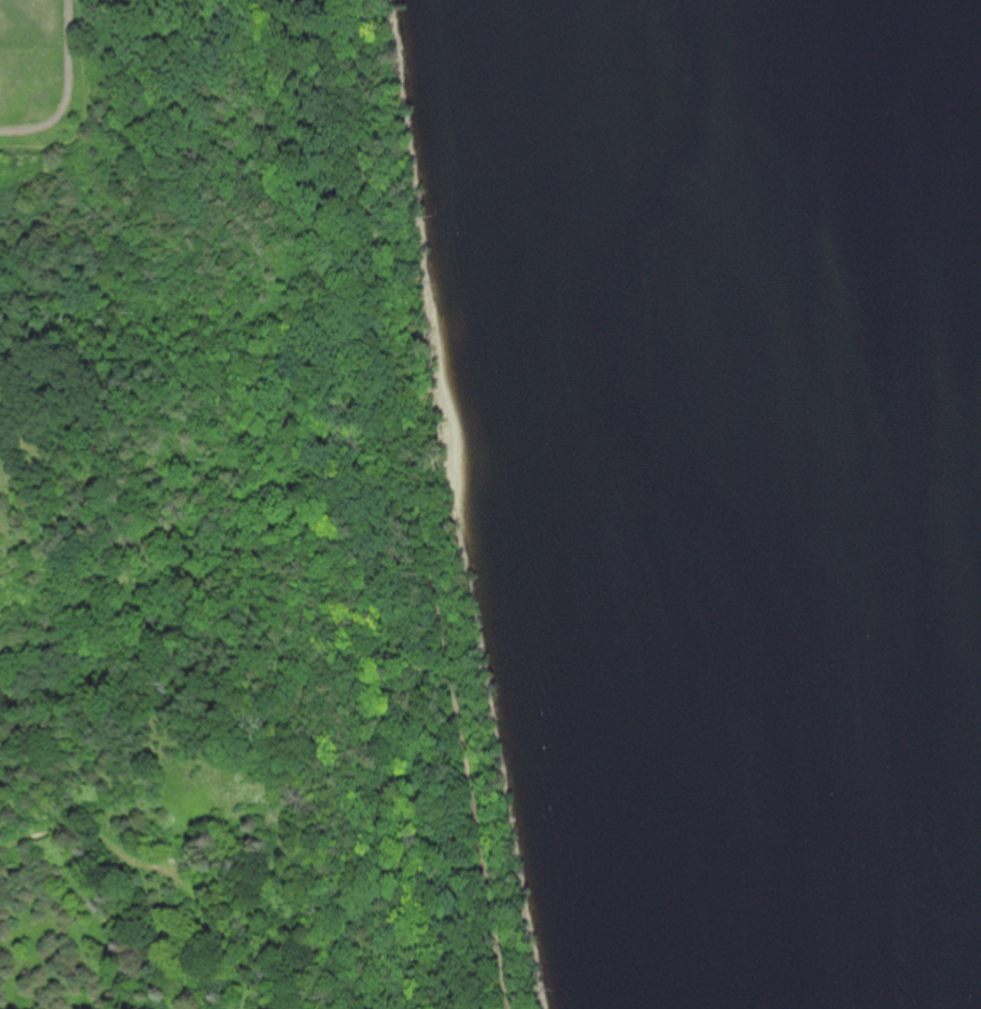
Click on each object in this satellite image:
road: (68, 94)
road: (86, 108)
road: (423, 504)
park: (238, 529)
road: (164, 866)

